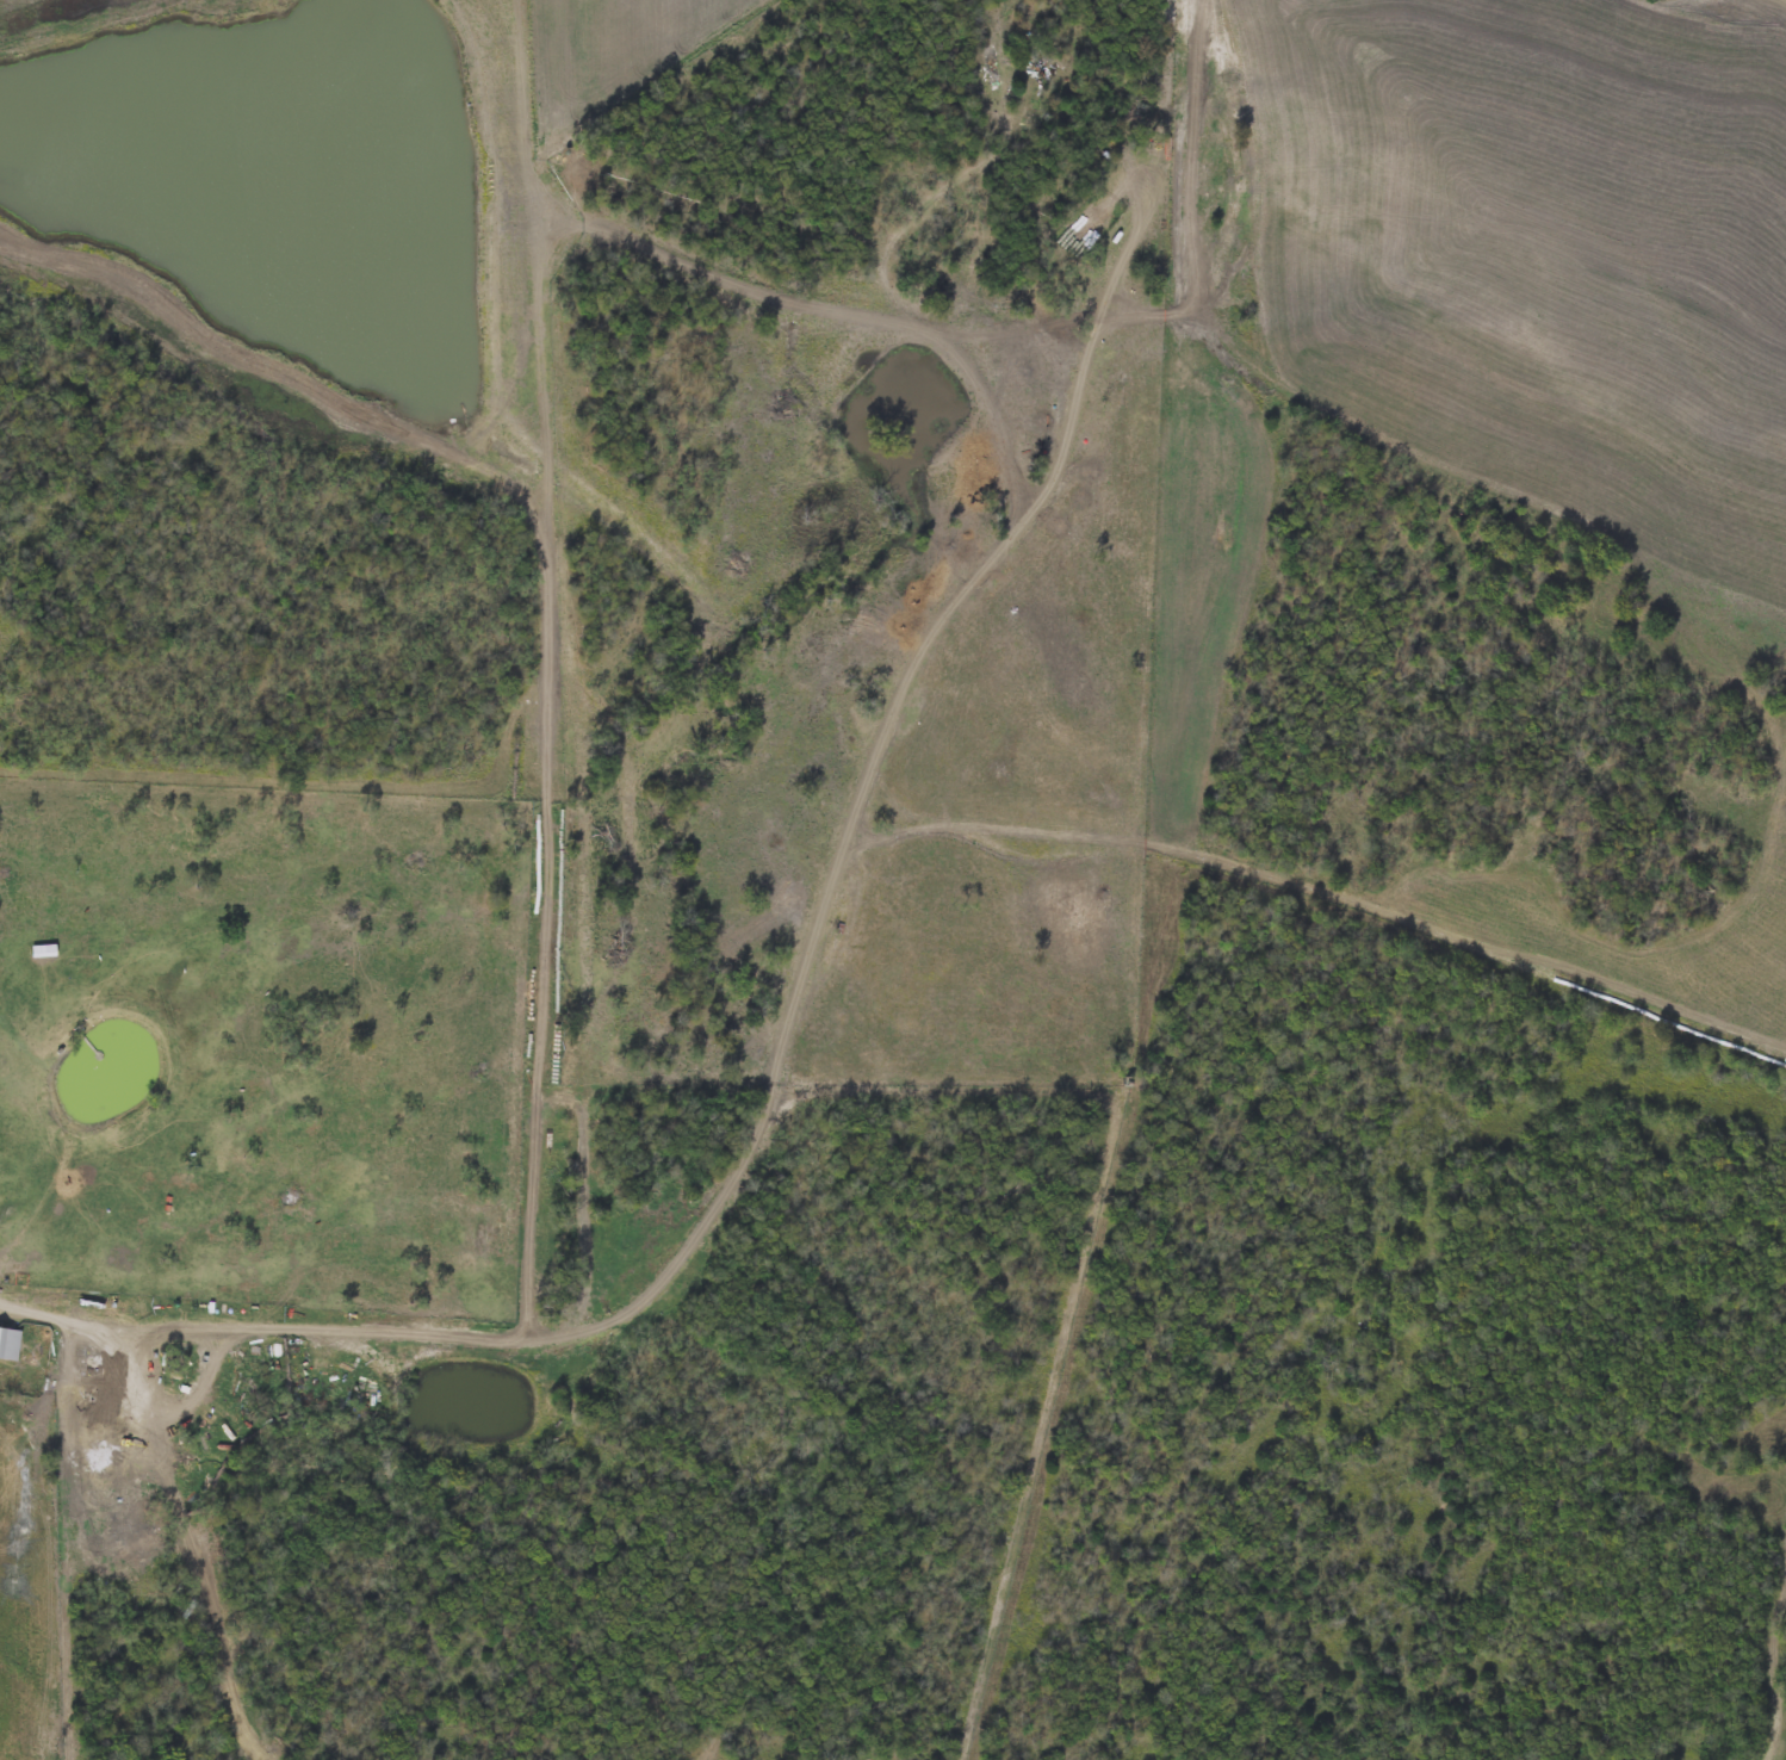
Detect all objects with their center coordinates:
building: (8, 1343)

